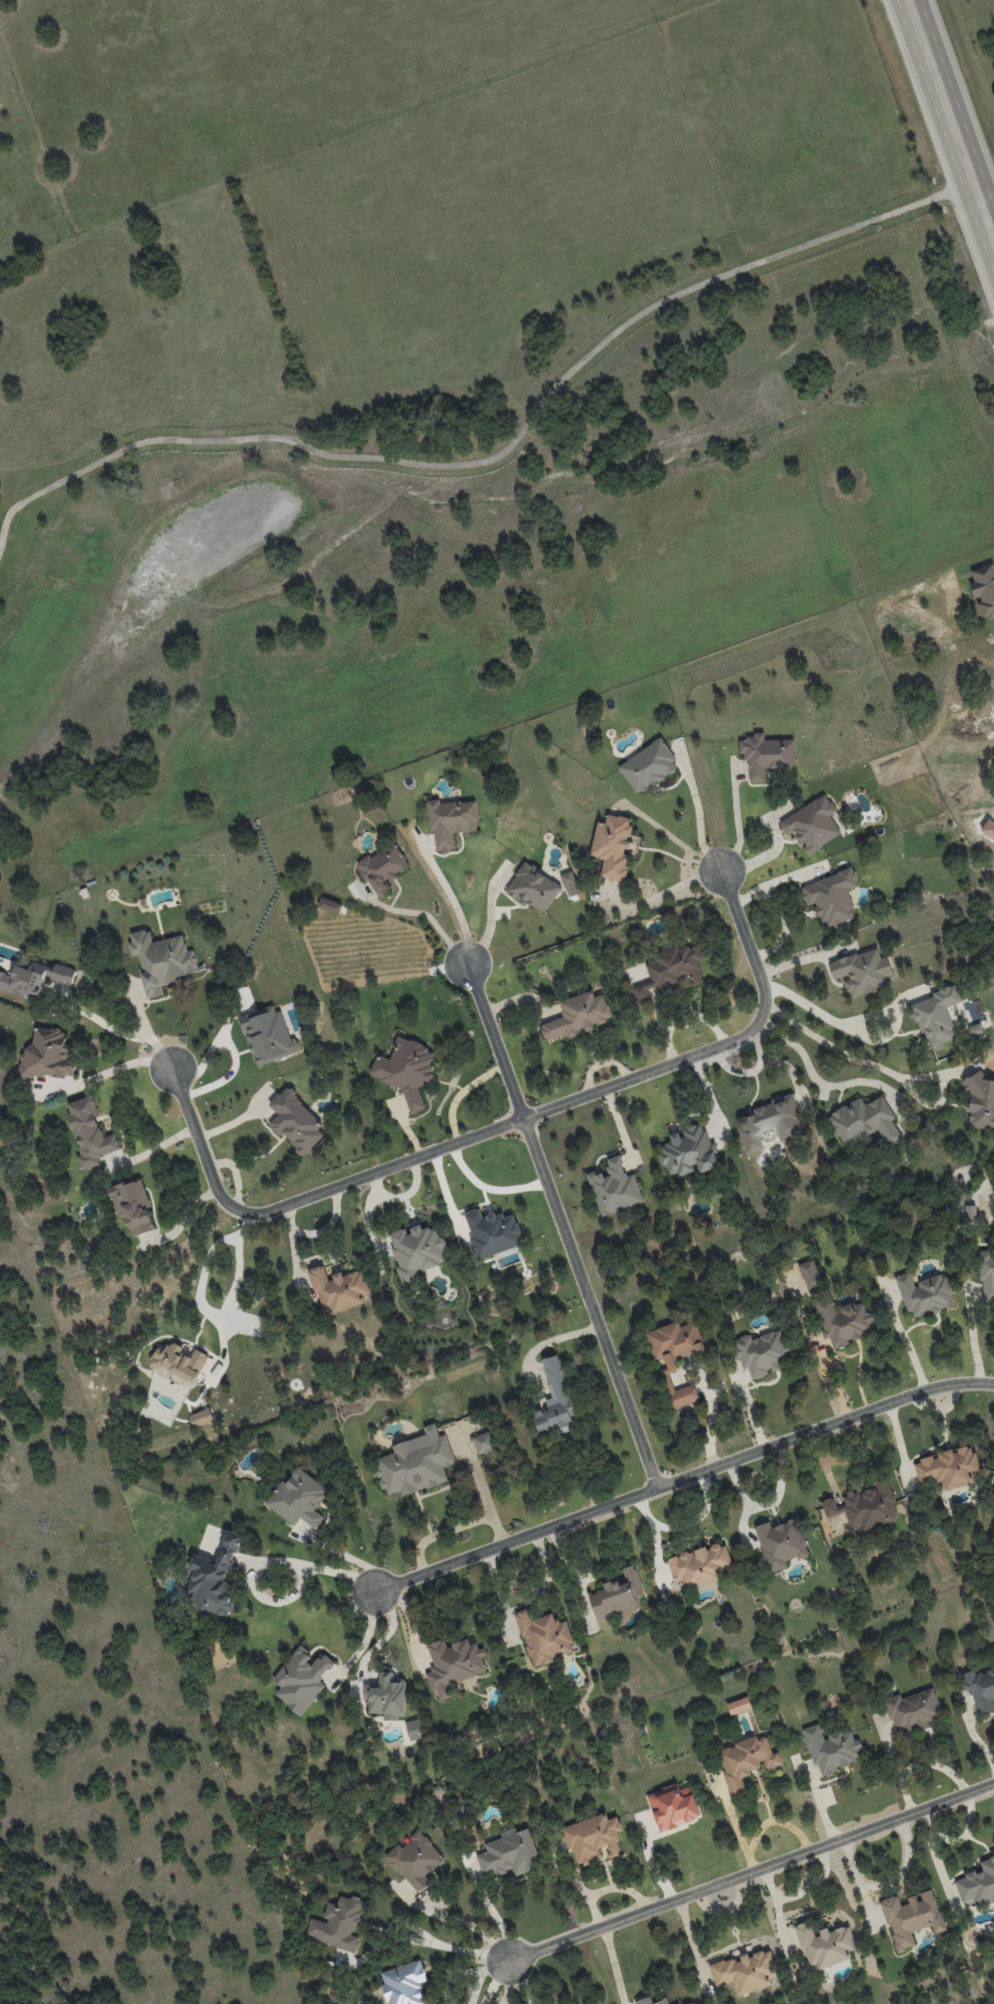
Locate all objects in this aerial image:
road: (949, 120)
road: (505, 448)
building: (766, 754)
building: (648, 766)
building: (451, 821)
building: (812, 824)
road: (700, 826)
road: (738, 830)
building: (612, 845)
building: (383, 868)
building: (569, 884)
road: (672, 887)
building: (533, 888)
building: (832, 897)
building: (330, 906)
road: (456, 907)
road: (434, 922)
road: (488, 925)
building: (161, 960)
building: (671, 970)
building: (861, 971)
building: (34, 978)
road: (812, 1002)
building: (577, 1016)
building: (936, 1017)
road: (149, 1022)
building: (975, 1029)
road: (124, 1030)
building: (267, 1034)
road: (836, 1042)
road: (756, 1043)
building: (47, 1052)
road: (759, 1064)
road: (116, 1068)
building: (406, 1070)
road: (813, 1075)
building: (980, 1101)
building: (864, 1121)
building: (296, 1122)
building: (770, 1122)
road: (501, 1125)
building: (89, 1133)
road: (155, 1148)
building: (689, 1152)
road: (487, 1187)
building: (614, 1187)
building: (133, 1206)
building: (970, 1213)
road: (563, 1225)
building: (492, 1233)
building: (416, 1251)
building: (810, 1274)
building: (987, 1276)
road: (239, 1279)
road: (205, 1283)
building: (338, 1290)
building: (925, 1295)
building: (844, 1321)
building: (674, 1343)
road: (974, 1344)
road: (909, 1348)
building: (761, 1353)
building: (180, 1361)
road: (827, 1376)
building: (684, 1396)
building: (555, 1399)
building: (201, 1418)
building: (484, 1442)
building: (415, 1463)
building: (948, 1467)
road: (684, 1476)
building: (298, 1499)
building: (866, 1505)
building: (780, 1544)
road: (349, 1551)
building: (700, 1564)
road: (318, 1565)
building: (214, 1579)
building: (617, 1594)
road: (280, 1595)
road: (409, 1618)
road: (387, 1634)
road: (365, 1637)
building: (544, 1637)
building: (453, 1664)
building: (304, 1675)
building: (981, 1689)
building: (386, 1696)
building: (738, 1706)
building: (913, 1711)
building: (413, 1729)
building: (831, 1748)
building: (746, 1760)
building: (673, 1806)
road: (966, 1831)
building: (592, 1838)
building: (509, 1854)
road: (933, 1854)
building: (415, 1860)
road: (750, 1870)
road: (582, 1882)
building: (978, 1884)
road: (627, 1885)
road: (493, 1910)
building: (911, 1916)
building: (338, 1924)
road: (472, 1925)
road: (454, 1942)
building: (825, 1945)
building: (744, 1972)
road: (522, 1979)
road: (495, 1981)
building: (404, 1984)
building: (650, 2001)
building: (690, 2003)

